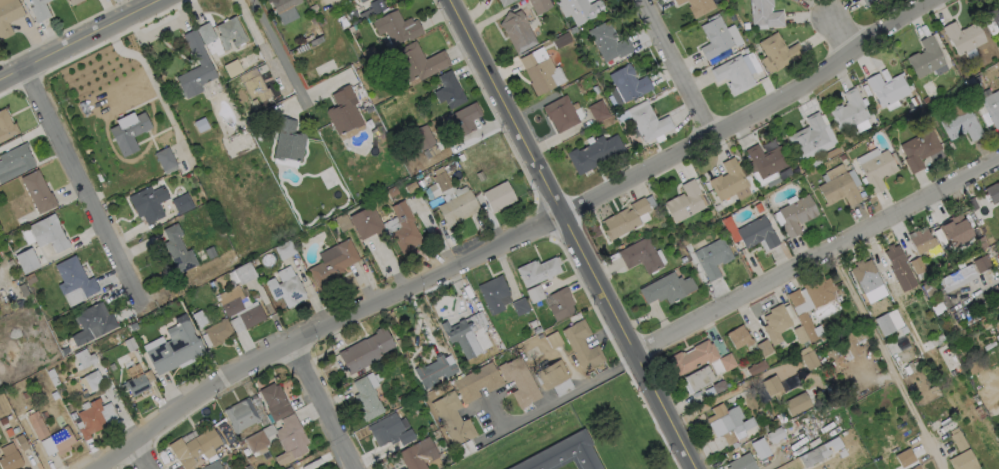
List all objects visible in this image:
building: (998, 0)
building: (360, 1)
building: (865, 1)
building: (72, 2)
building: (503, 2)
building: (282, 4)
building: (695, 6)
building: (38, 9)
building: (582, 10)
building: (763, 14)
building: (8, 16)
building: (991, 20)
road: (839, 26)
building: (395, 27)
building: (516, 31)
building: (228, 33)
building: (714, 37)
building: (962, 37)
road: (82, 41)
road: (258, 41)
building: (607, 41)
building: (776, 52)
road: (281, 54)
building: (924, 58)
building: (418, 61)
road: (681, 66)
building: (193, 67)
building: (540, 71)
building: (732, 74)
building: (627, 83)
building: (253, 85)
building: (449, 89)
building: (885, 89)
building: (991, 107)
building: (597, 110)
building: (342, 111)
building: (849, 112)
building: (560, 113)
building: (464, 118)
building: (957, 120)
building: (646, 121)
building: (5, 126)
building: (127, 133)
building: (422, 137)
building: (810, 138)
building: (286, 140)
building: (920, 150)
building: (593, 153)
building: (165, 160)
building: (763, 160)
building: (14, 161)
building: (875, 167)
road: (81, 172)
building: (727, 180)
building: (437, 185)
building: (838, 189)
building: (36, 191)
building: (992, 192)
building: (497, 195)
building: (181, 202)
building: (683, 202)
building: (147, 203)
building: (456, 207)
building: (793, 215)
building: (623, 219)
building: (388, 226)
building: (953, 230)
building: (47, 233)
building: (755, 233)
road: (568, 235)
road: (515, 237)
building: (921, 241)
building: (284, 249)
building: (177, 250)
building: (639, 255)
building: (711, 257)
road: (817, 258)
building: (25, 260)
building: (331, 262)
building: (980, 263)
building: (915, 264)
building: (897, 268)
building: (536, 271)
building: (240, 273)
building: (864, 275)
building: (73, 277)
building: (955, 277)
building: (665, 288)
building: (285, 290)
building: (818, 291)
building: (534, 293)
building: (492, 294)
building: (559, 304)
building: (231, 306)
building: (519, 306)
building: (250, 315)
building: (887, 321)
building: (91, 323)
building: (774, 323)
building: (217, 332)
building: (799, 333)
building: (465, 334)
building: (737, 336)
building: (852, 341)
building: (580, 345)
building: (763, 347)
building: (173, 348)
building: (364, 351)
building: (692, 356)
building: (807, 357)
building: (83, 358)
road: (886, 360)
building: (756, 367)
building: (434, 369)
building: (553, 377)
building: (696, 379)
building: (89, 380)
building: (518, 381)
building: (475, 382)
building: (135, 385)
building: (771, 387)
road: (567, 390)
building: (270, 395)
building: (364, 398)
building: (796, 403)
road: (328, 407)
building: (244, 414)
building: (451, 418)
building: (89, 419)
building: (726, 421)
building: (36, 425)
building: (389, 430)
building: (773, 435)
building: (60, 440)
building: (289, 440)
building: (957, 440)
building: (255, 441)
building: (20, 442)
building: (192, 447)
building: (759, 448)
building: (417, 453)
building: (562, 453)
building: (812, 455)
road: (146, 456)
building: (903, 457)
building: (961, 460)
building: (10, 461)
building: (740, 462)
building: (211, 466)
building: (287, 467)
building: (913, 467)

